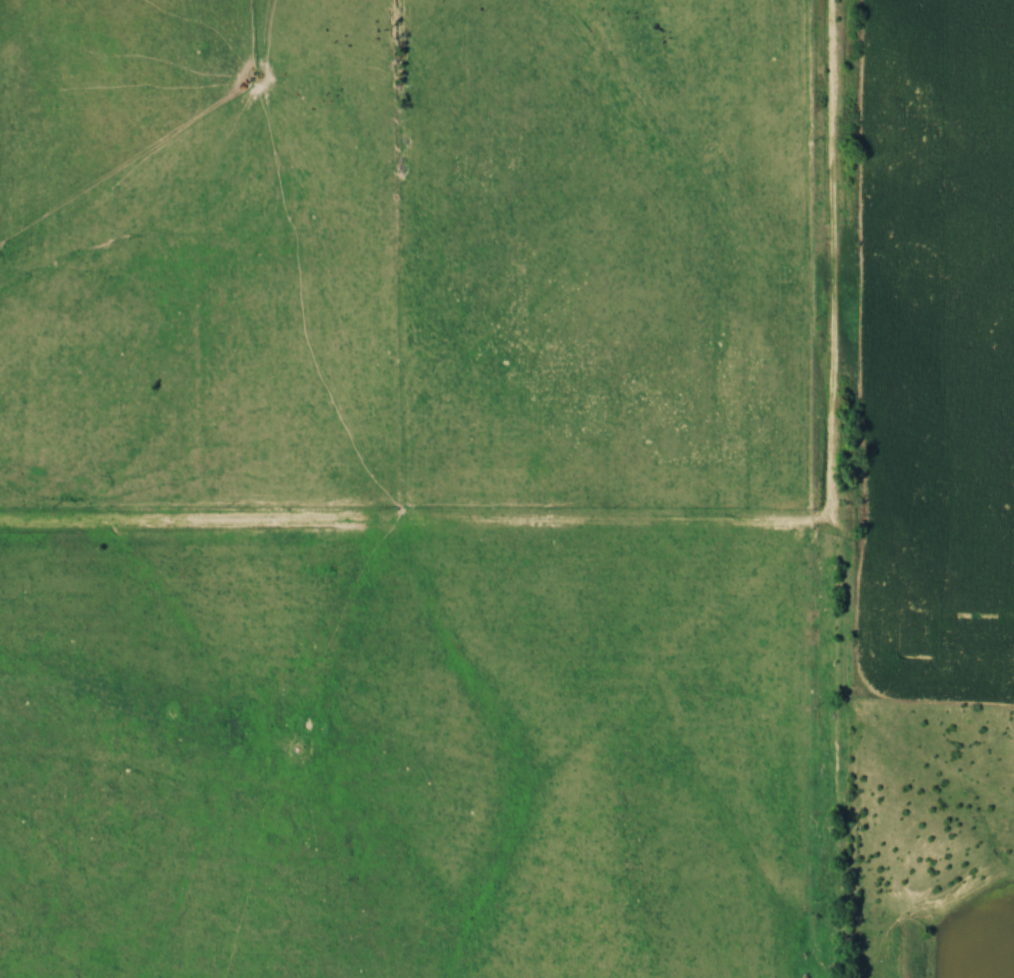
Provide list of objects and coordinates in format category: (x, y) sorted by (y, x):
crop: (940, 352)
road: (671, 523)

